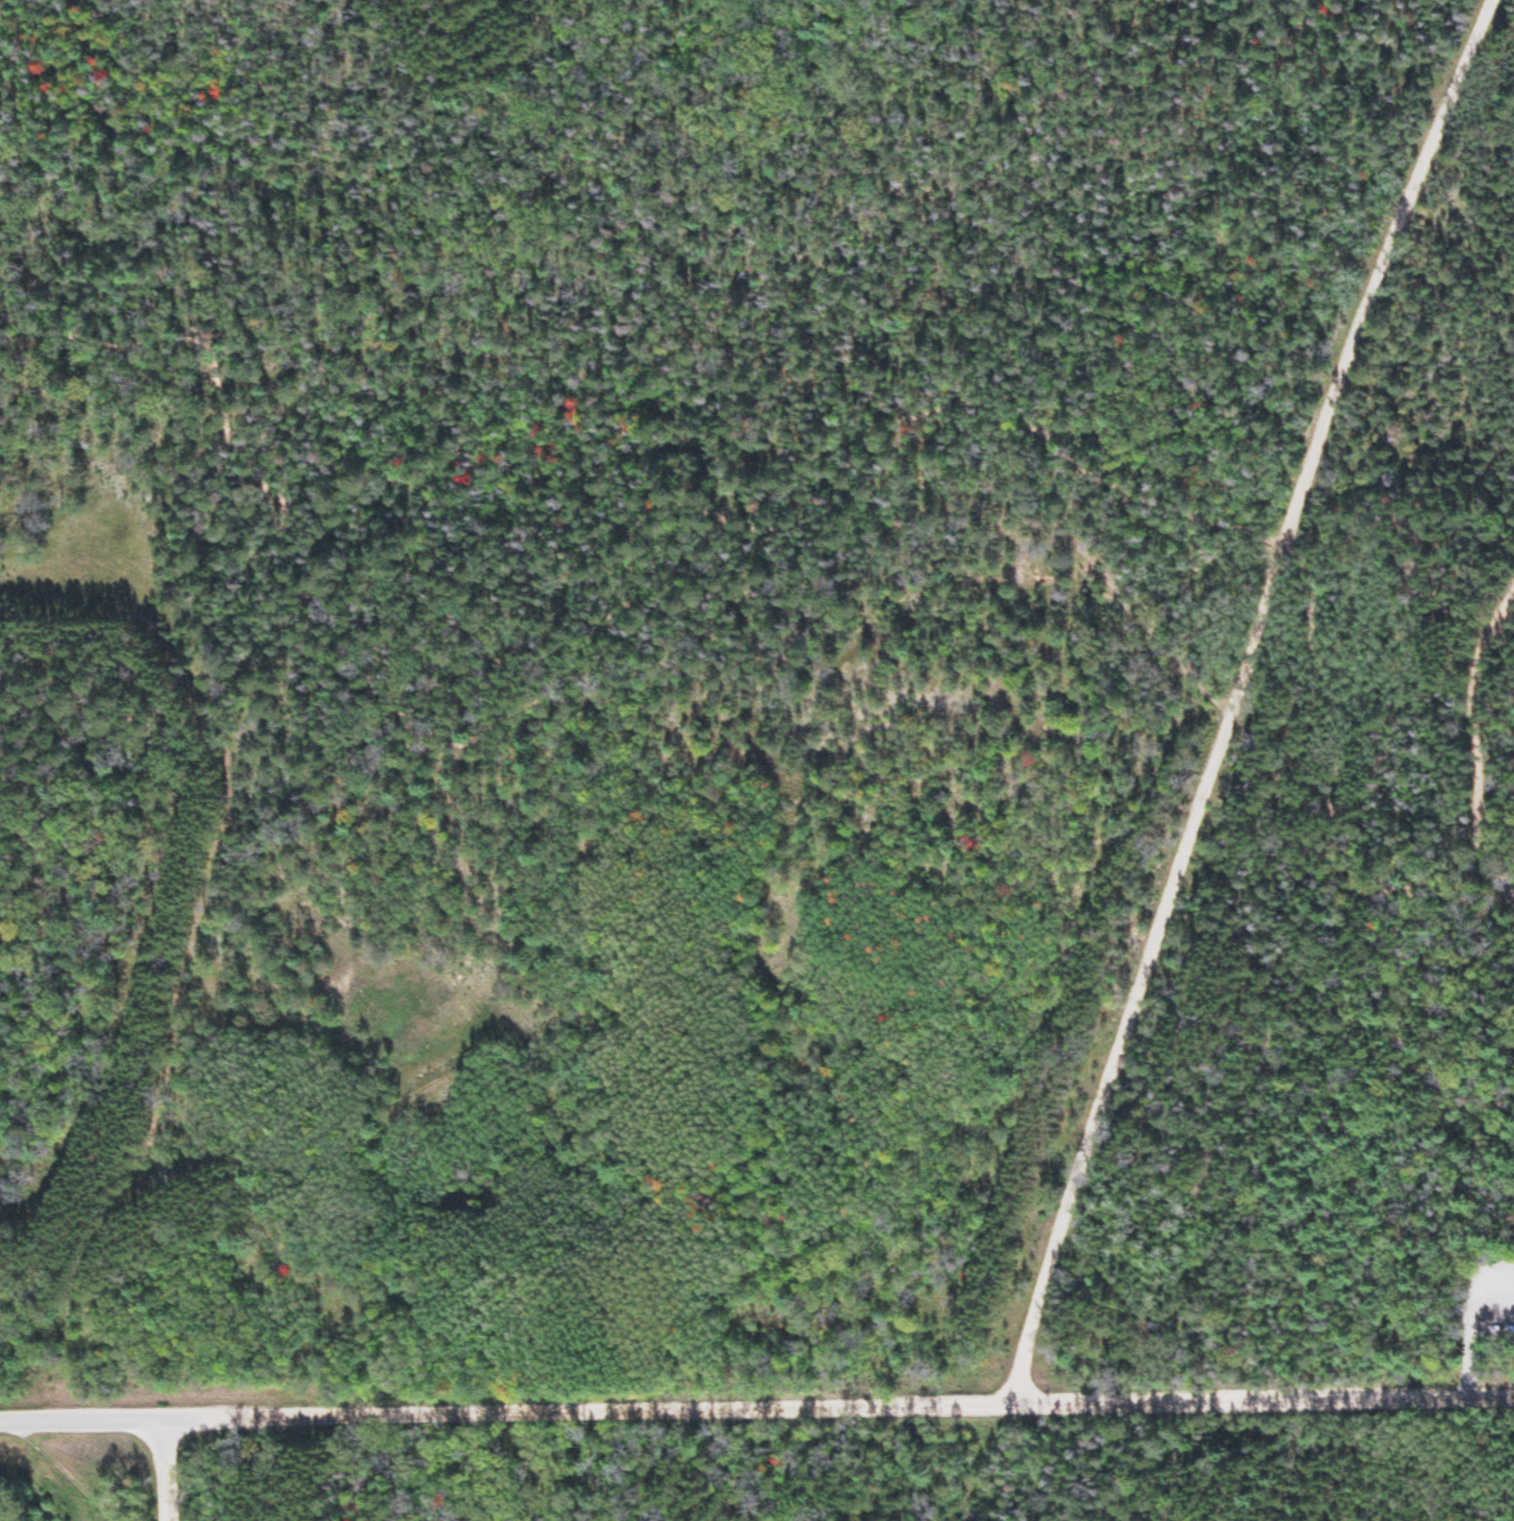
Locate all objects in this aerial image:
road: (64, 614)
road: (1252, 698)
road: (1482, 742)
road: (842, 1406)
road: (85, 1422)
road: (172, 1471)

